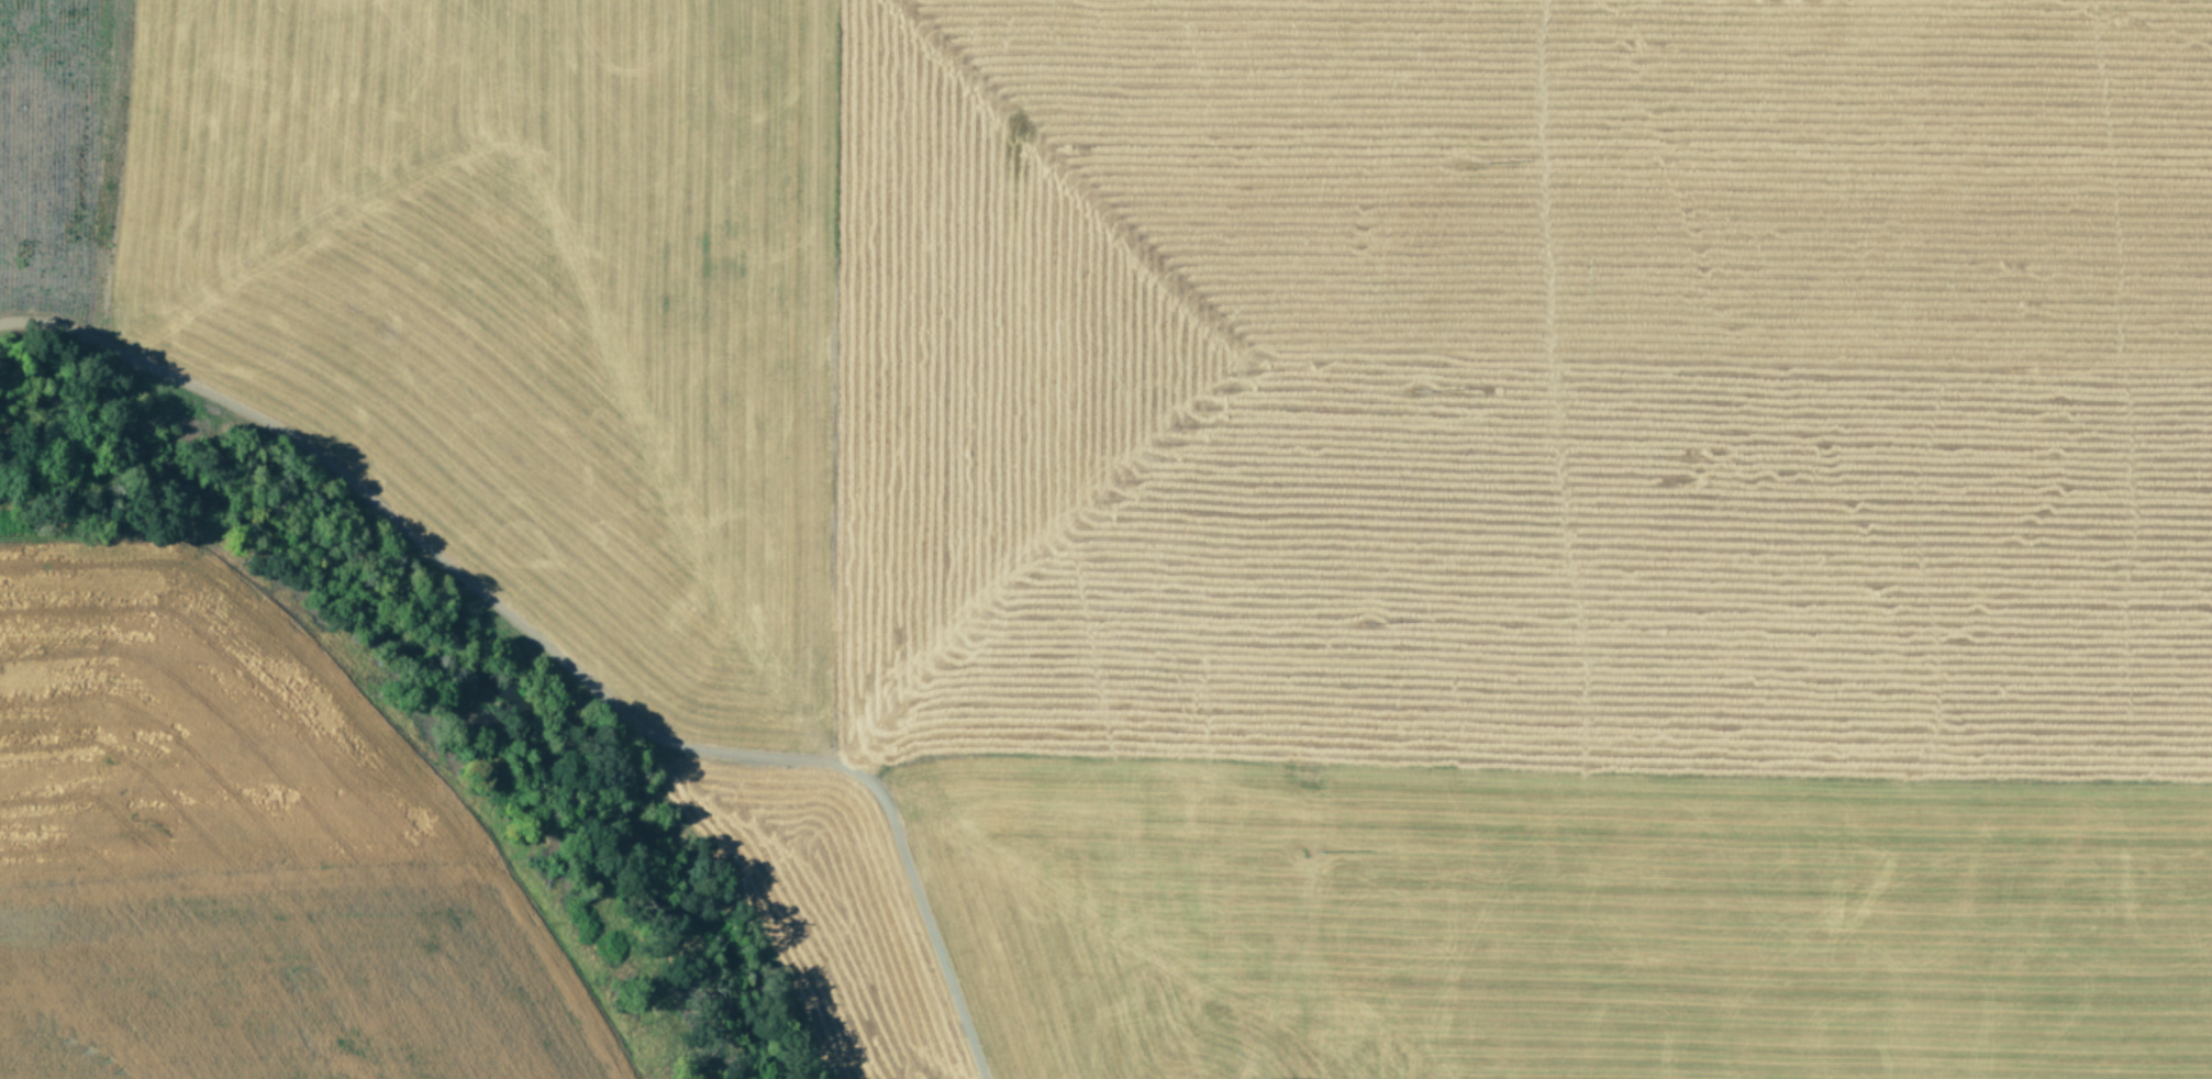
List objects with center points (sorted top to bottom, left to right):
crop: (1286, 482)

